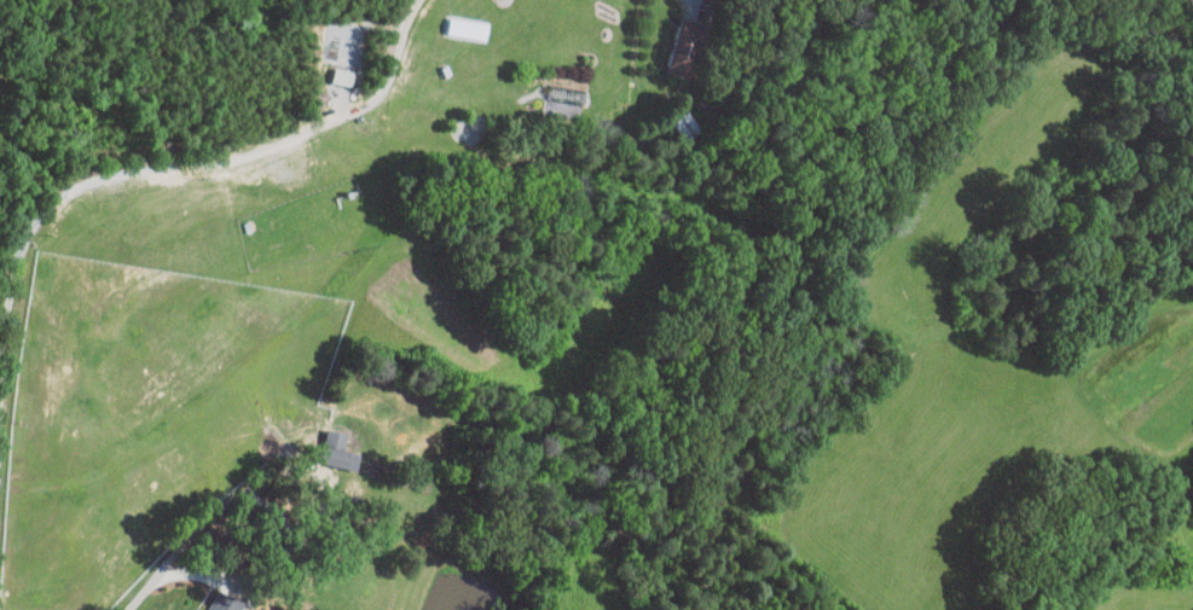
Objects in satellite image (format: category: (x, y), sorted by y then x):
building: (684, 47)
building: (342, 75)
building: (567, 95)
road: (164, 167)
building: (338, 449)
road: (212, 512)
building: (224, 602)

